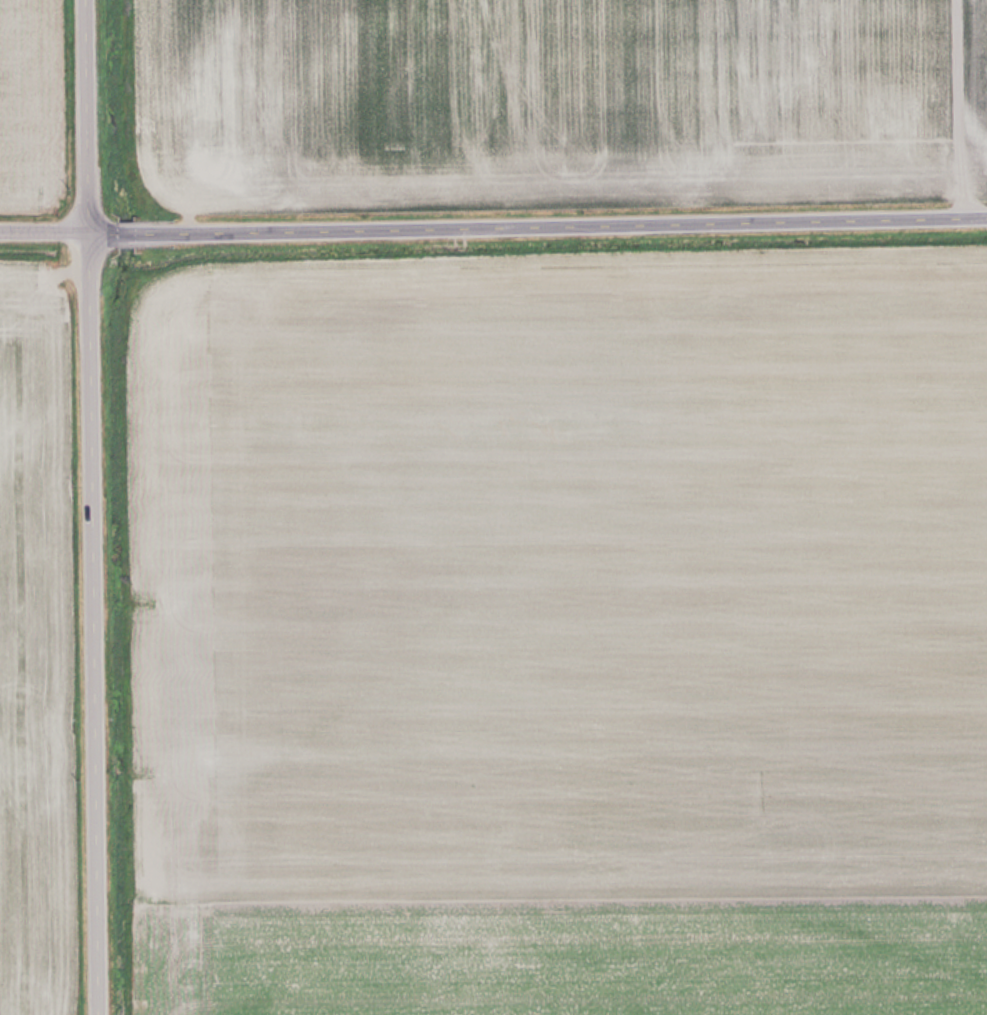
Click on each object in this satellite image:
road: (957, 112)
road: (96, 120)
road: (493, 233)
road: (103, 627)

